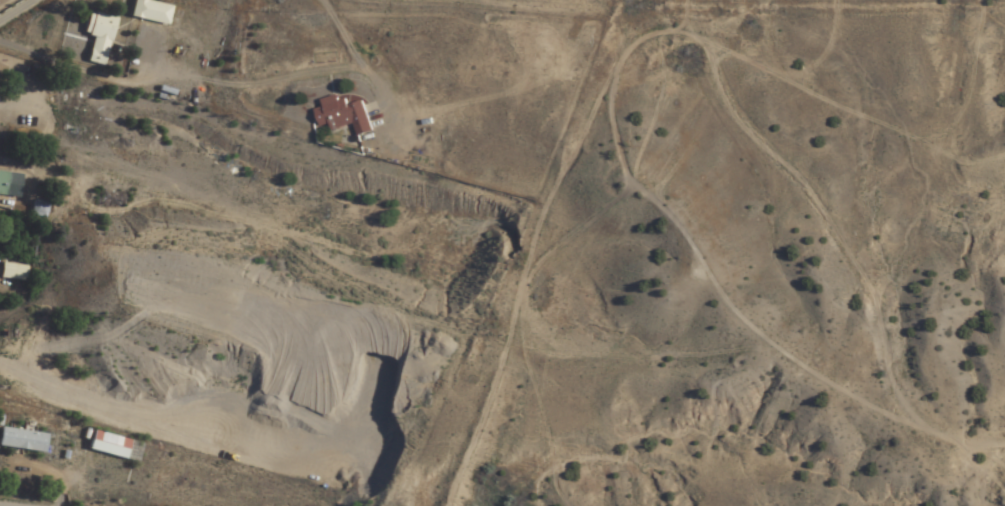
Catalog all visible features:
building: (150, 12)
road: (48, 18)
building: (97, 37)
building: (341, 115)
building: (3, 183)
building: (39, 209)
road: (84, 259)
building: (22, 440)
building: (116, 447)
road: (442, 494)

